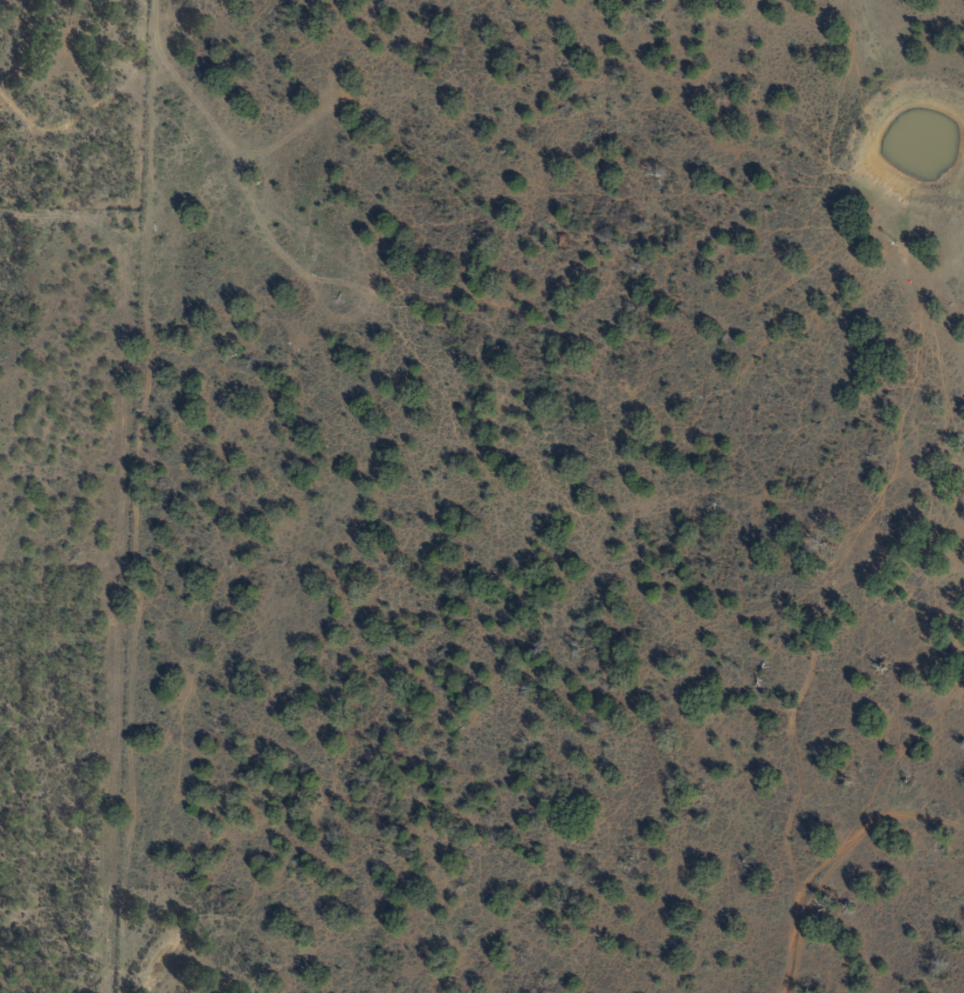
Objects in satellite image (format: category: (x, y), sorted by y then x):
road: (784, 639)

